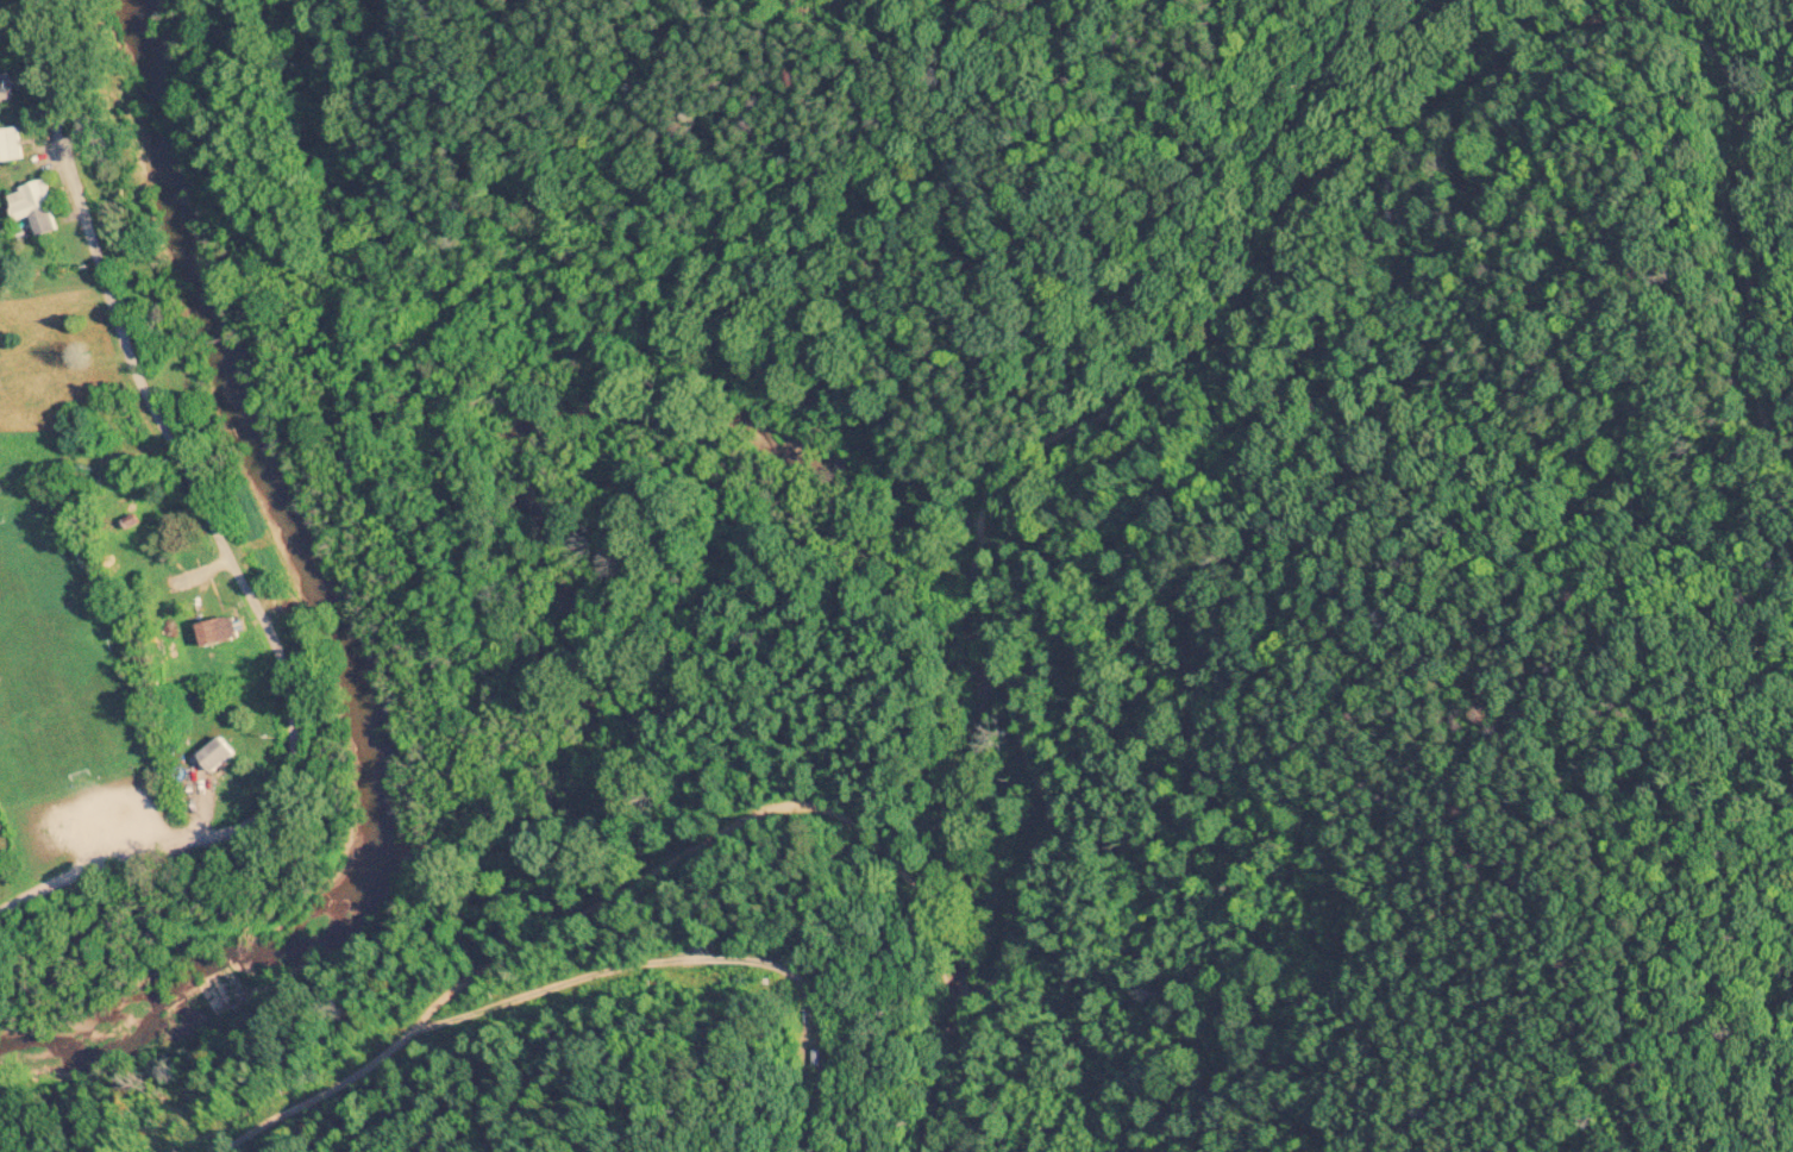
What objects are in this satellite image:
building: (7, 89)
building: (11, 146)
building: (37, 208)
road: (222, 545)
park: (37, 574)
river: (345, 630)
building: (220, 632)
park: (64, 702)
building: (220, 753)
road: (316, 1117)

